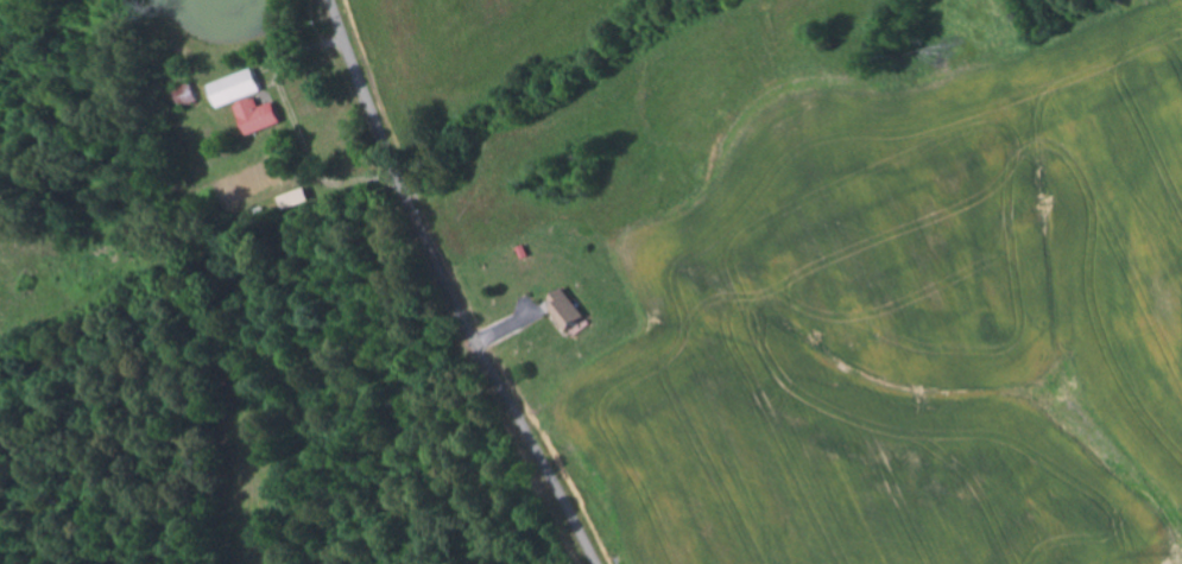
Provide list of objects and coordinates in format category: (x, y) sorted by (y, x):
building: (236, 88)
building: (258, 116)
road: (445, 289)
building: (567, 309)

